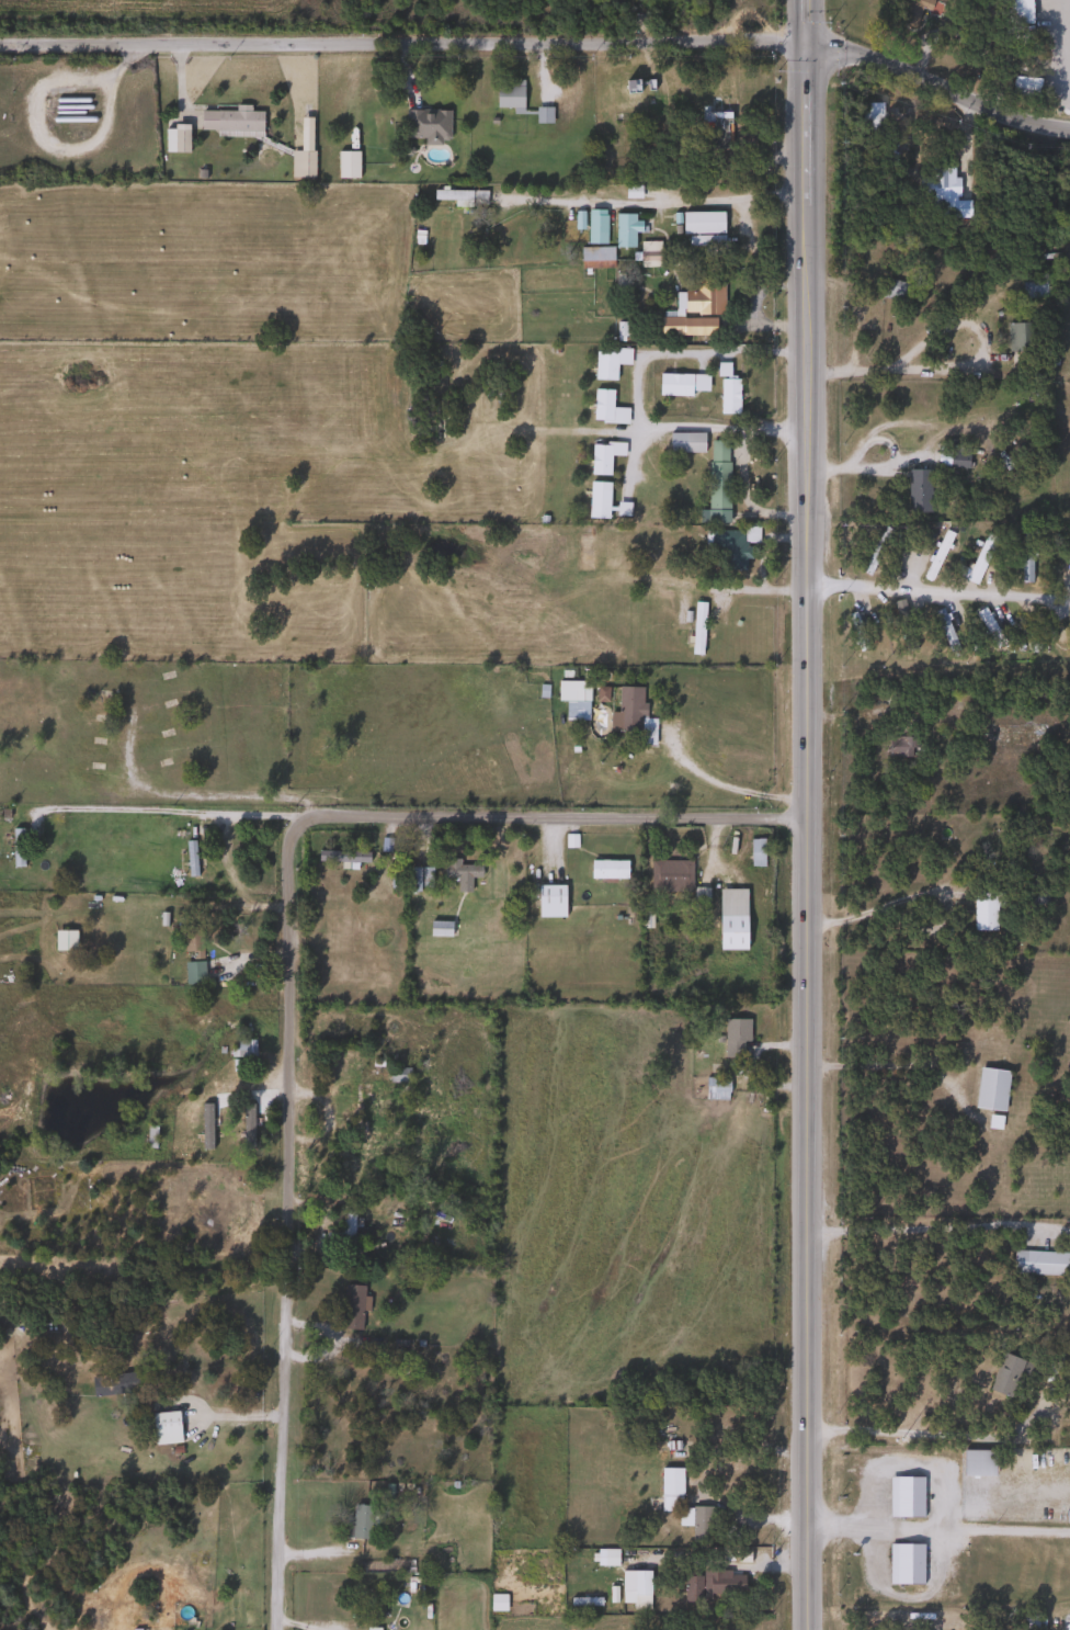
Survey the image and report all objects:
building: (911, 11)
road: (281, 42)
road: (820, 50)
road: (1065, 50)
building: (637, 90)
building: (506, 95)
building: (869, 116)
building: (718, 118)
building: (230, 122)
building: (425, 125)
building: (173, 139)
building: (299, 165)
building: (345, 165)
road: (809, 176)
building: (942, 193)
building: (456, 196)
road: (656, 203)
building: (594, 227)
building: (624, 230)
building: (703, 231)
building: (648, 253)
building: (594, 258)
building: (1032, 288)
building: (895, 291)
road: (770, 292)
building: (703, 297)
building: (685, 327)
road: (769, 327)
building: (1017, 337)
road: (807, 361)
building: (606, 363)
road: (961, 365)
building: (680, 385)
road: (634, 394)
building: (727, 397)
building: (604, 408)
building: (684, 443)
building: (601, 456)
road: (627, 459)
building: (949, 460)
building: (716, 482)
building: (915, 490)
road: (742, 497)
building: (596, 500)
building: (621, 509)
building: (726, 548)
building: (582, 553)
building: (935, 555)
building: (981, 556)
building: (1024, 556)
road: (937, 592)
building: (902, 626)
building: (1043, 626)
building: (988, 629)
building: (695, 630)
building: (943, 631)
building: (855, 632)
building: (570, 691)
building: (629, 714)
building: (900, 746)
road: (186, 812)
building: (16, 847)
building: (753, 851)
building: (340, 856)
building: (187, 863)
building: (606, 868)
building: (457, 869)
building: (668, 875)
building: (418, 879)
building: (1032, 892)
building: (549, 901)
road: (874, 908)
building: (981, 910)
building: (731, 918)
building: (439, 928)
building: (62, 939)
road: (282, 969)
building: (191, 972)
road: (806, 999)
building: (733, 1035)
building: (1069, 1038)
road: (919, 1064)
building: (396, 1076)
building: (718, 1087)
building: (989, 1088)
building: (235, 1090)
building: (1016, 1096)
building: (355, 1102)
building: (246, 1127)
road: (938, 1221)
building: (250, 1227)
building: (345, 1232)
building: (1037, 1263)
building: (351, 1306)
building: (1010, 1373)
building: (112, 1383)
road: (232, 1415)
building: (163, 1427)
road: (929, 1434)
building: (669, 1481)
building: (903, 1496)
road: (937, 1519)
building: (358, 1521)
building: (701, 1524)
road: (937, 1538)
road: (708, 1563)
building: (903, 1563)
building: (713, 1585)
building: (633, 1586)
building: (496, 1603)
building: (1032, 1621)

